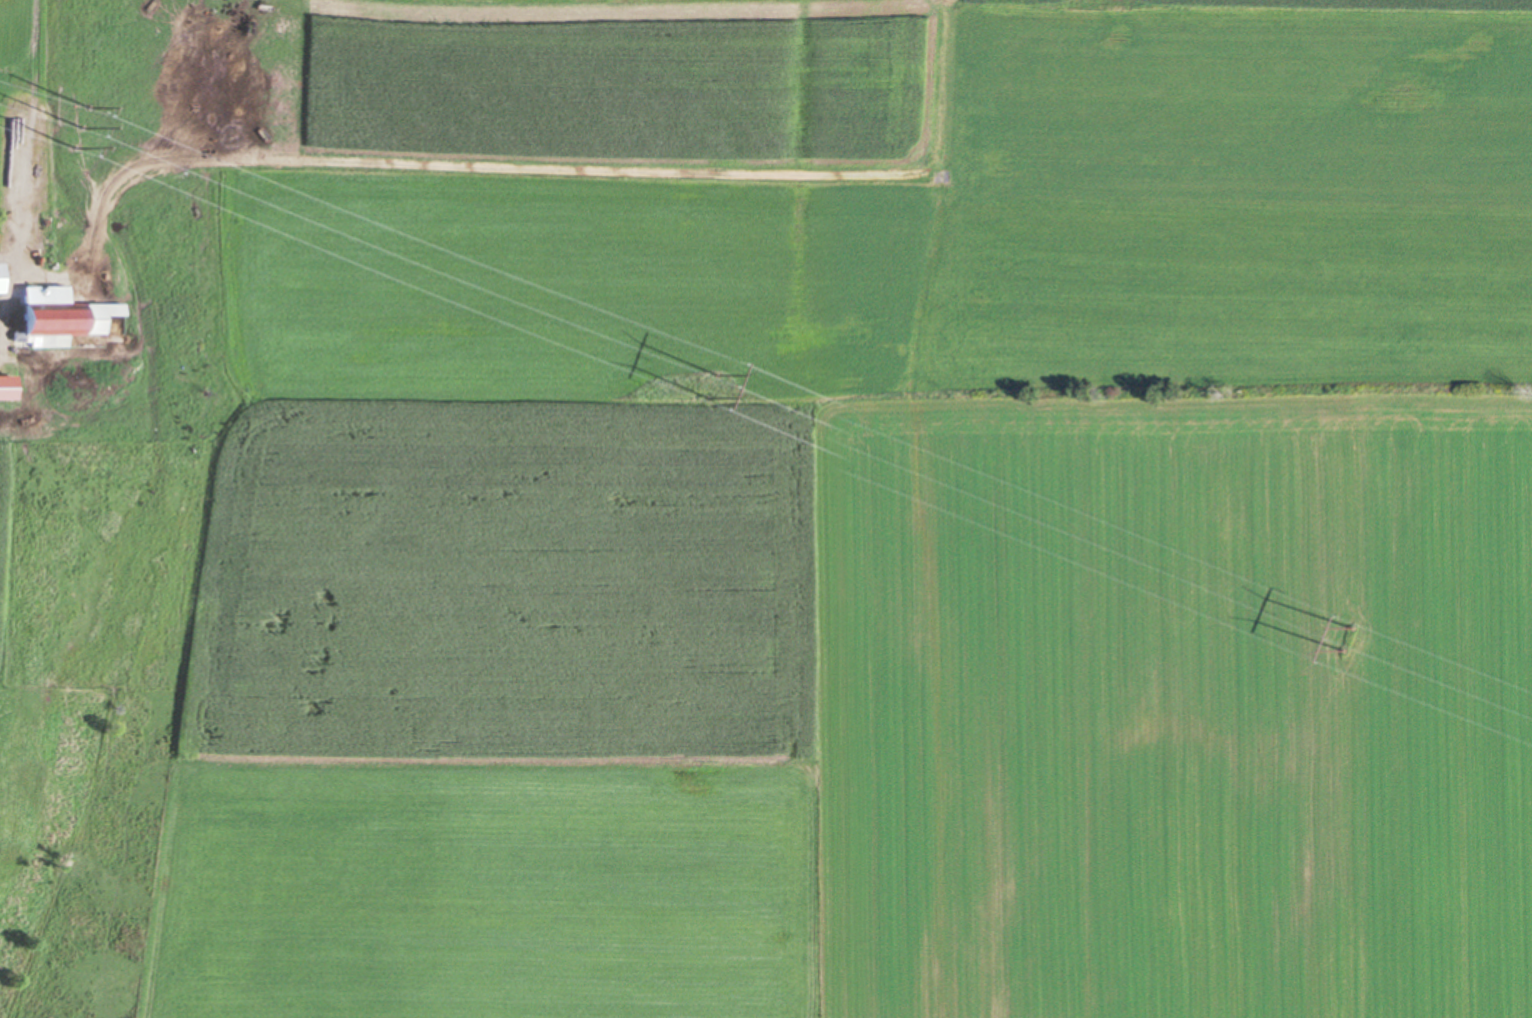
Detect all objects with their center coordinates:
power tower: (82, 125)
building: (35, 176)
building: (0, 277)
building: (59, 318)
power tower: (714, 385)
building: (5, 386)
power tower: (1348, 635)

